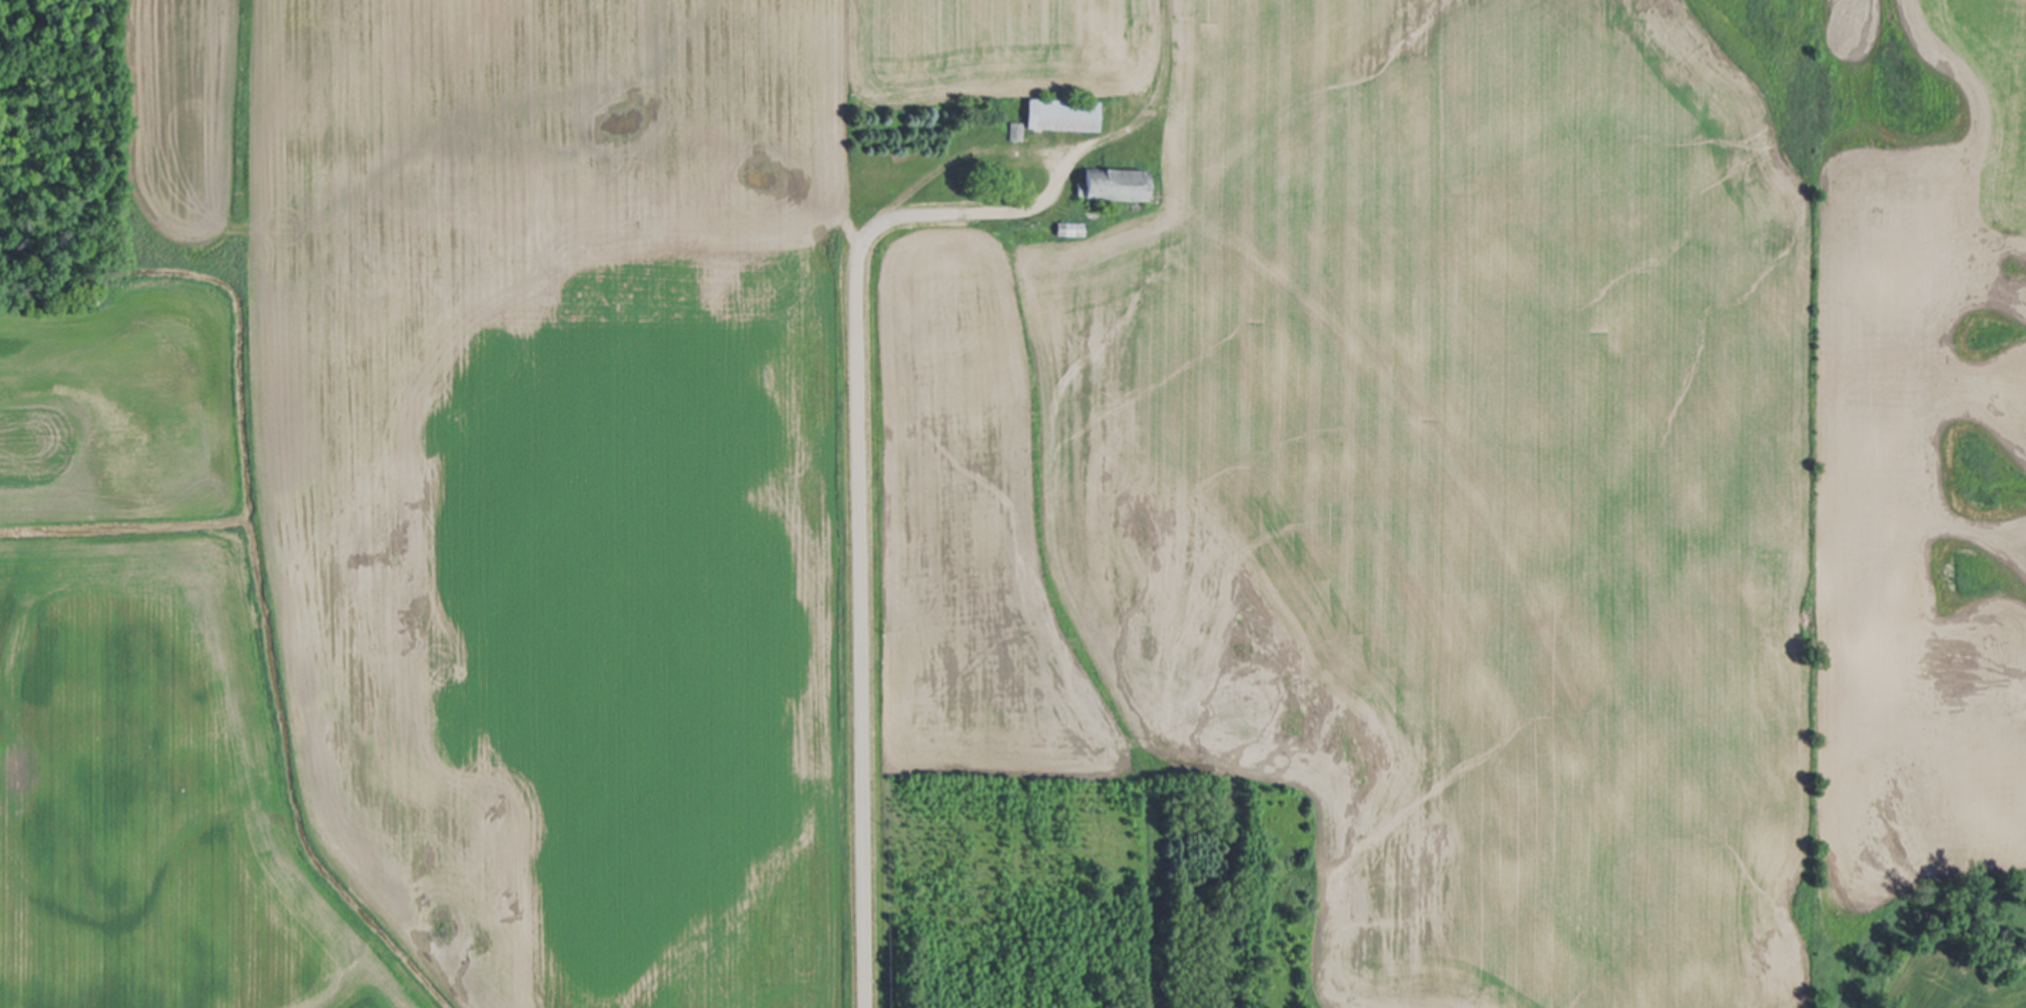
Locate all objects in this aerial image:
road: (1160, 98)
building: (1066, 115)
building: (1118, 186)
road: (1035, 205)
building: (1072, 230)
road: (860, 571)

